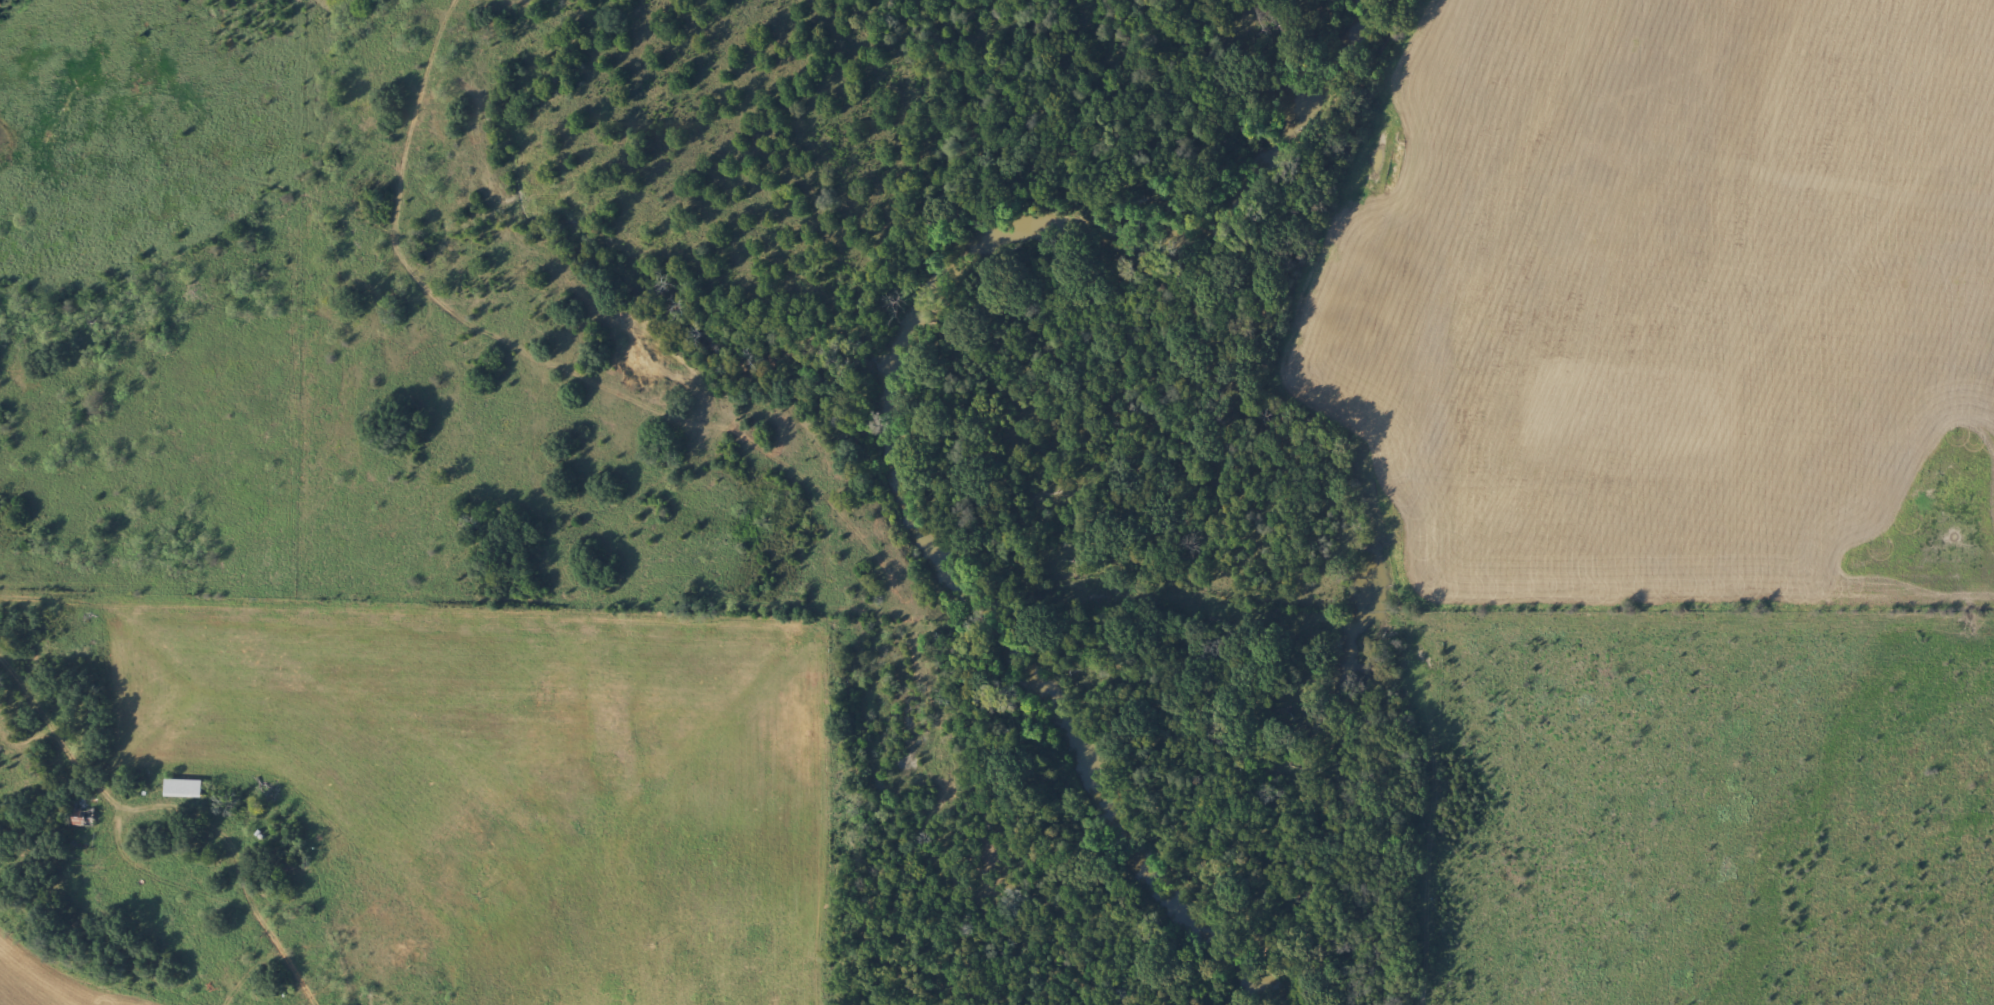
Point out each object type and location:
building: (181, 788)
road: (199, 816)
building: (82, 817)

